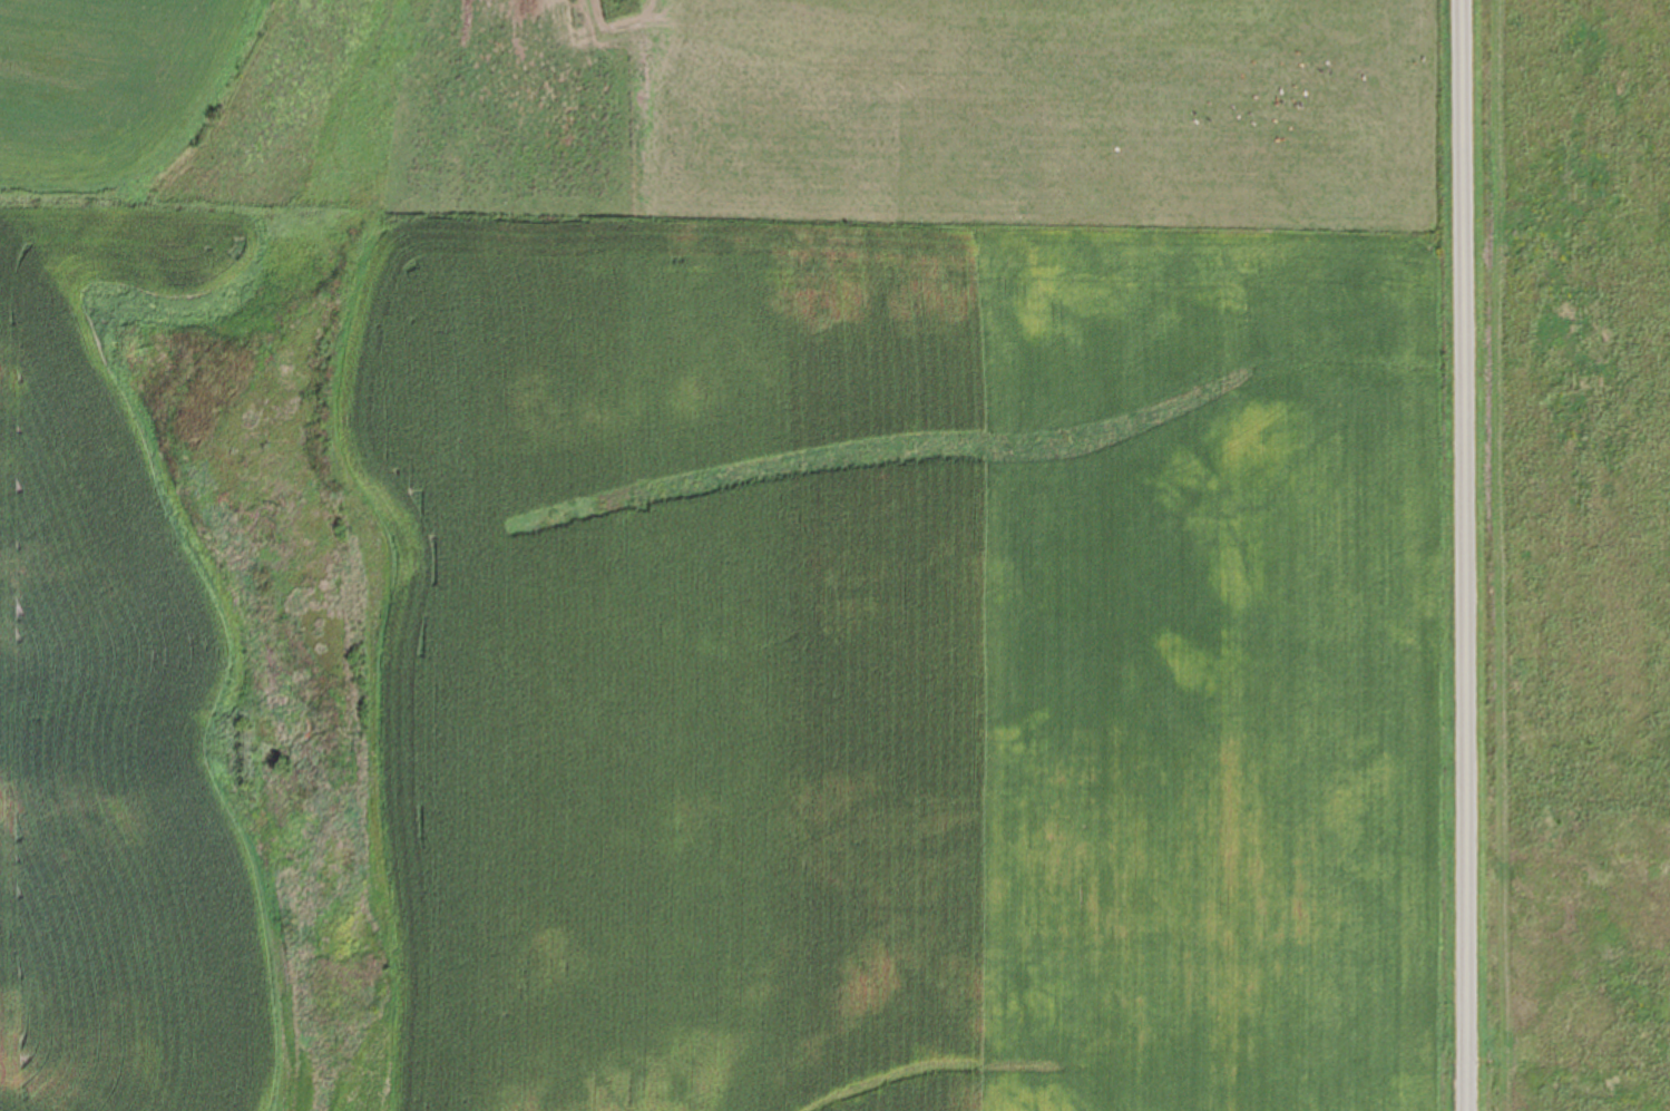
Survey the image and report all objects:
road: (1459, 555)

